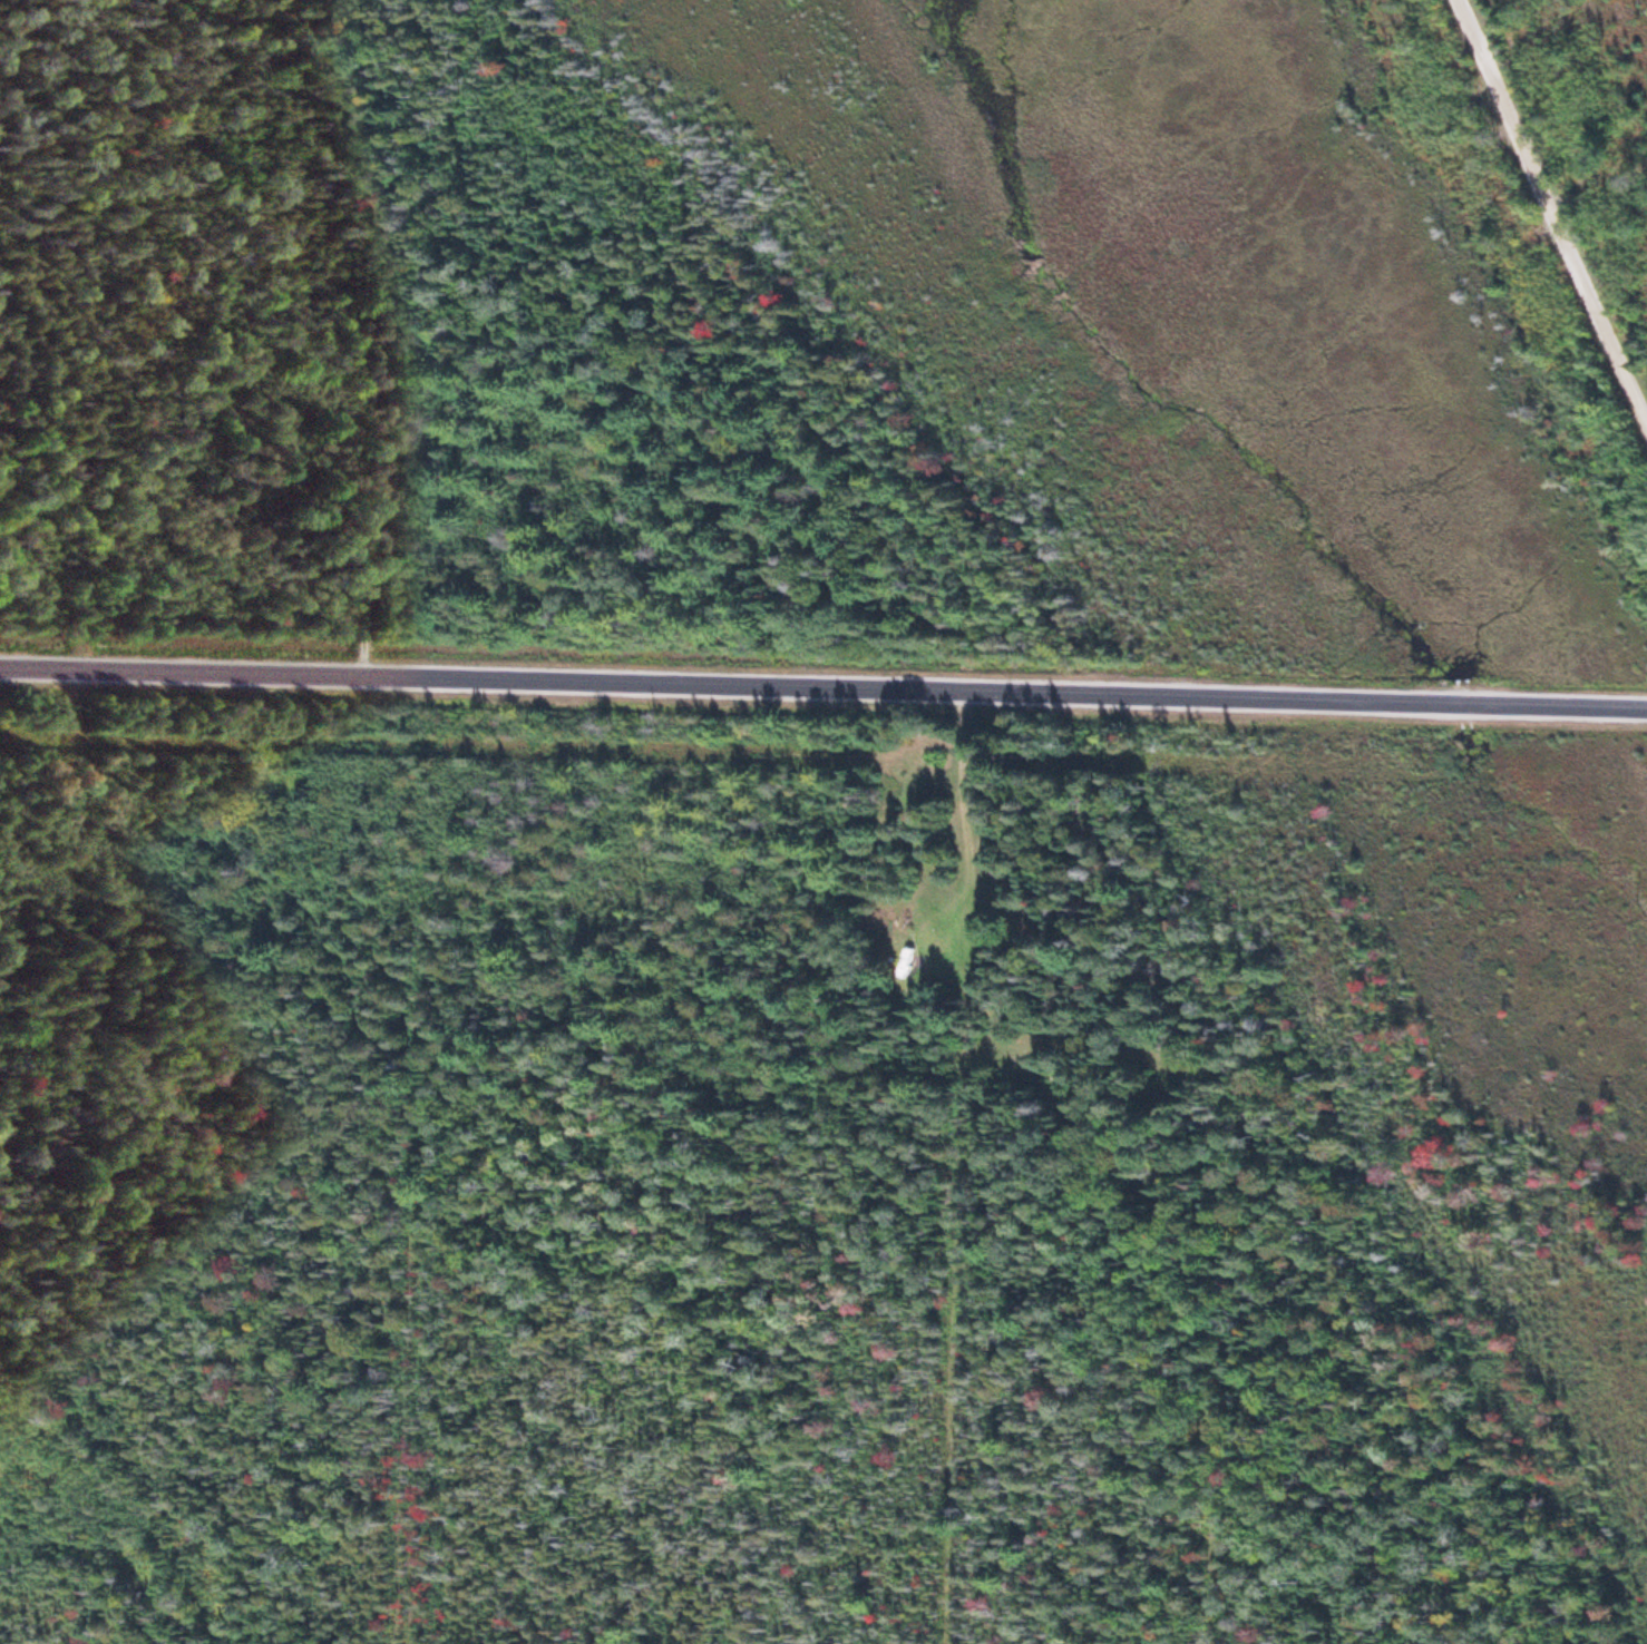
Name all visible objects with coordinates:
road: (1549, 206)
road: (359, 334)
road: (823, 688)

